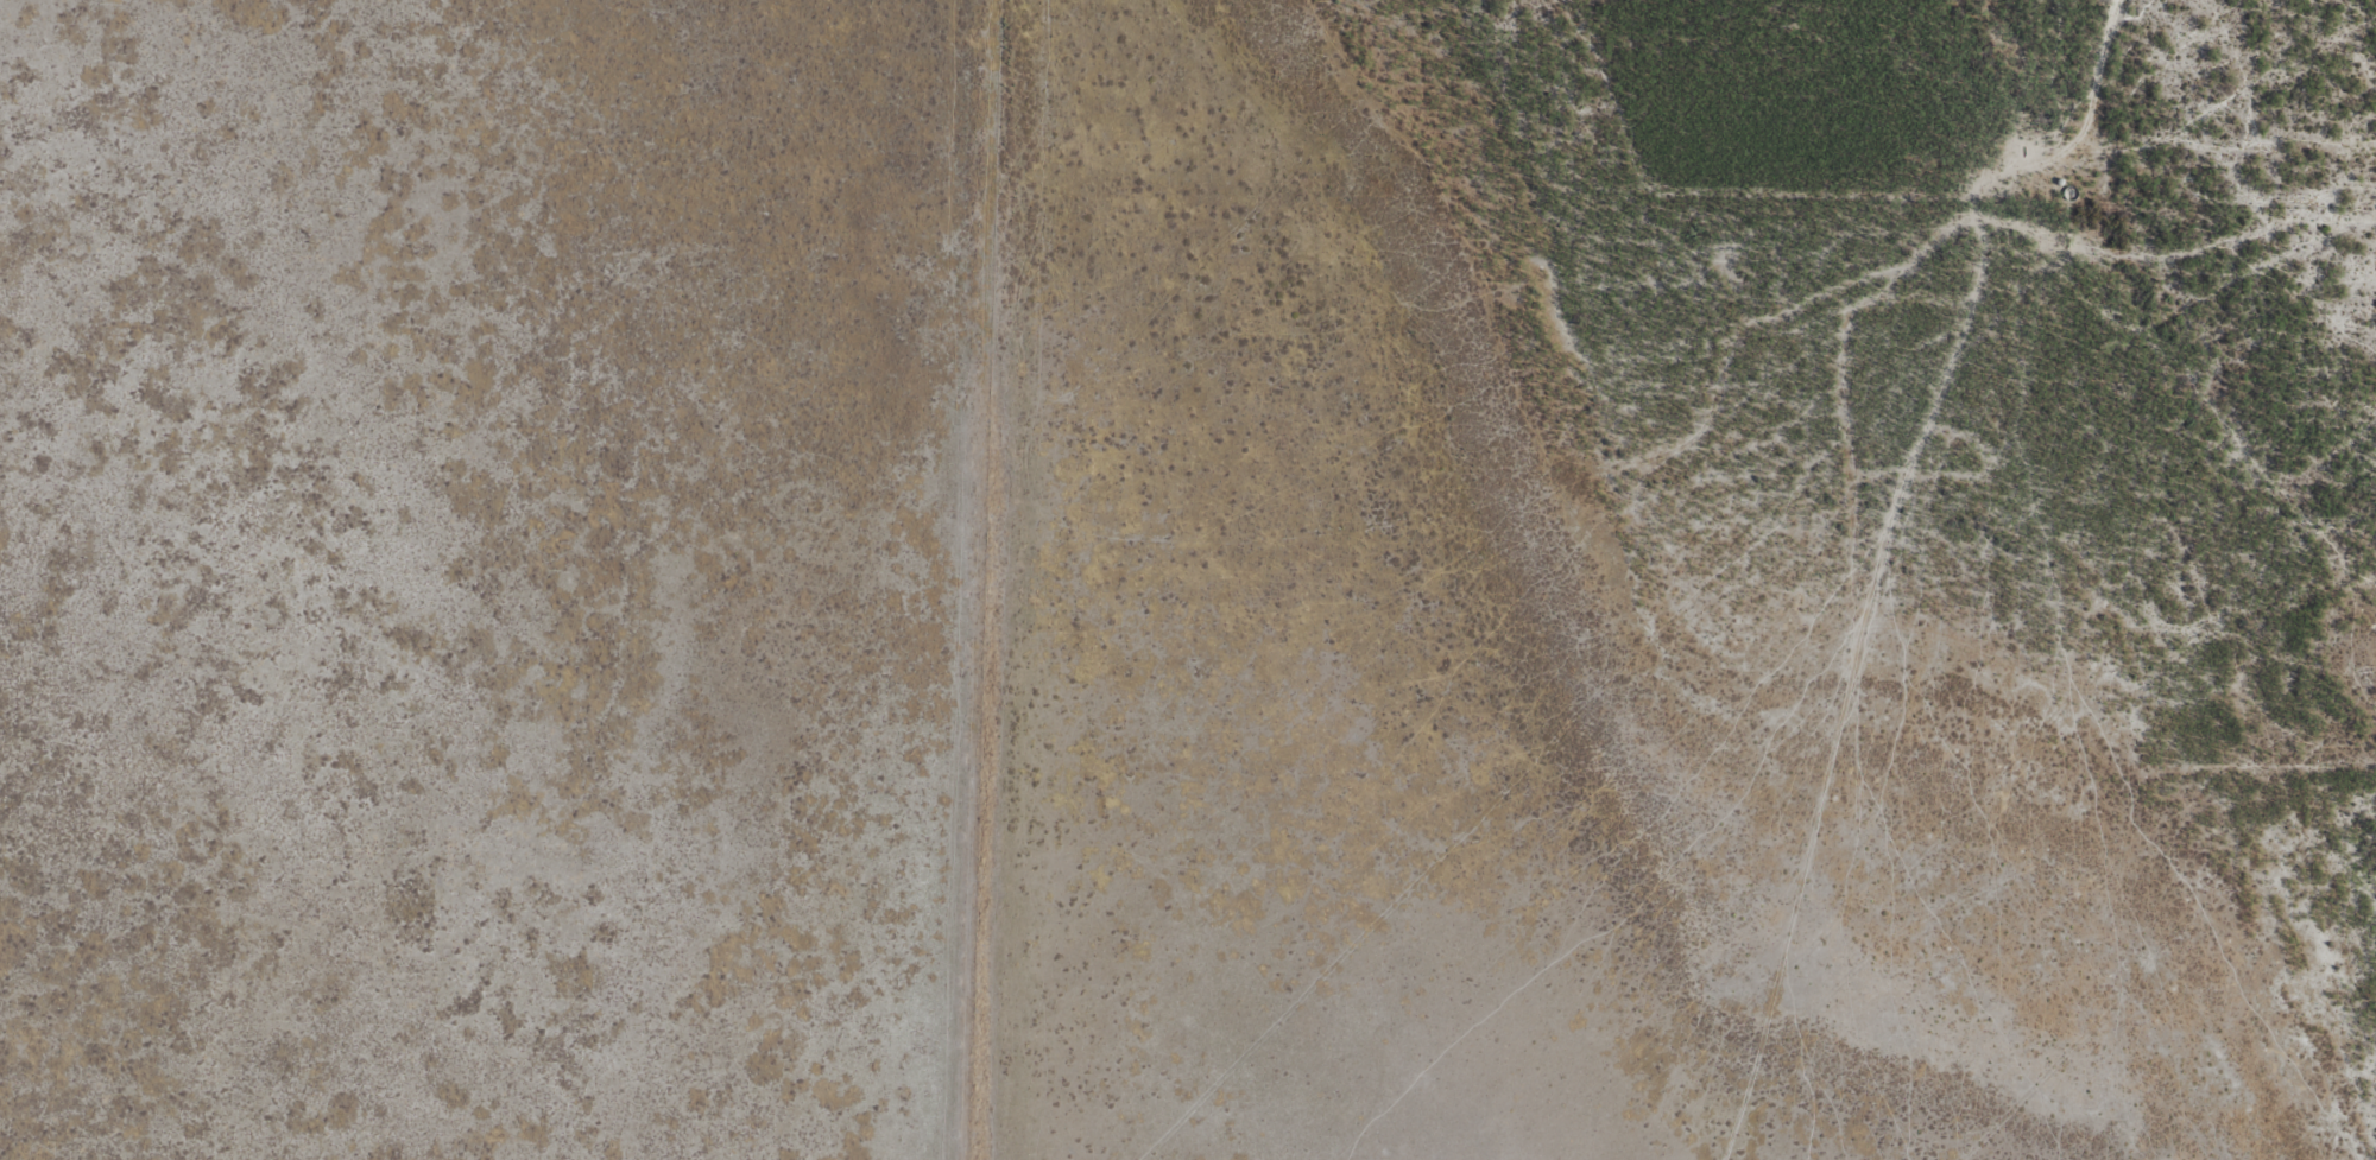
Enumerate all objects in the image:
road: (2046, 361)

